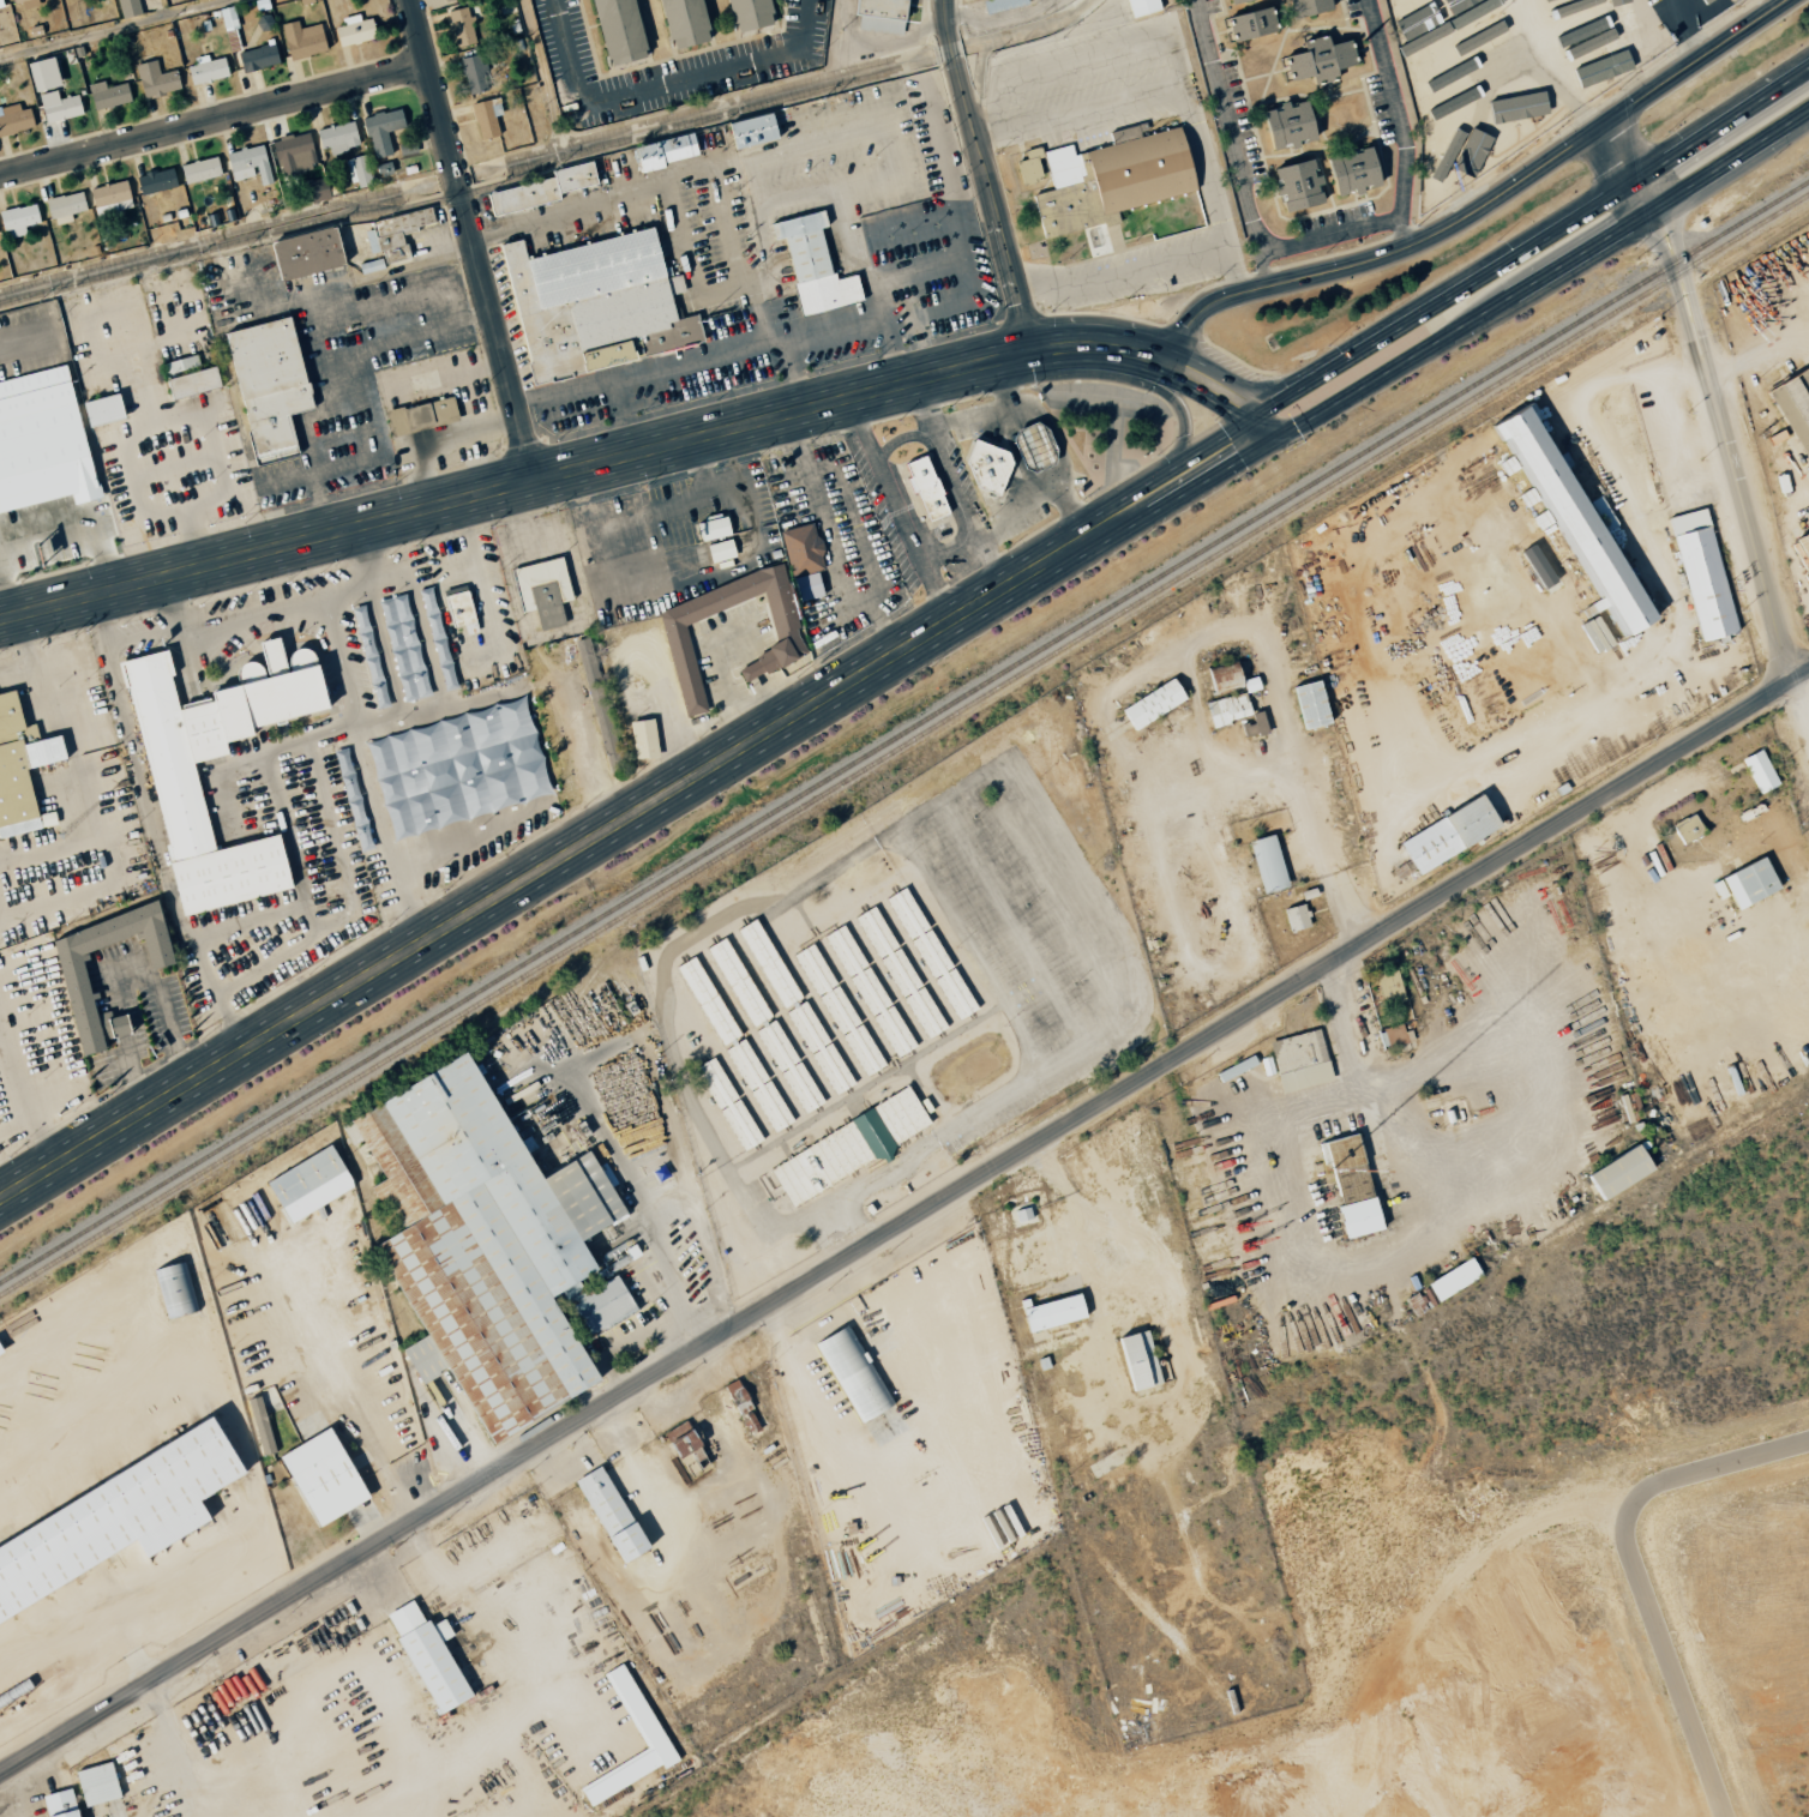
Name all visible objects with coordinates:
building: (446, 0)
building: (1545, 0)
building: (1234, 1)
building: (1616, 1)
building: (24, 4)
building: (1000, 4)
building: (0, 6)
building: (1308, 6)
building: (1141, 7)
building: (1568, 7)
building: (128, 8)
building: (1407, 13)
building: (747, 14)
building: (878, 14)
building: (1576, 20)
building: (683, 22)
building: (1249, 24)
building: (459, 26)
building: (354, 30)
building: (617, 30)
building: (1635, 31)
building: (1588, 36)
building: (301, 40)
building: (257, 58)
building: (1419, 59)
building: (1318, 60)
building: (205, 70)
building: (475, 73)
building: (42, 74)
building: (155, 79)
road: (662, 85)
building: (107, 95)
road: (1395, 96)
building: (58, 107)
building: (1516, 107)
road: (1225, 110)
building: (486, 118)
building: (14, 119)
road: (214, 122)
road: (1721, 122)
building: (1286, 126)
building: (380, 131)
building: (750, 131)
building: (337, 137)
building: (663, 152)
building: (1470, 152)
building: (293, 154)
building: (248, 164)
building: (1029, 167)
building: (199, 170)
building: (1351, 170)
building: (357, 172)
road: (984, 176)
building: (1111, 179)
building: (155, 181)
building: (1296, 185)
building: (540, 189)
road: (1619, 191)
road: (451, 195)
building: (108, 197)
road: (1483, 205)
building: (64, 206)
building: (18, 219)
road: (1404, 222)
building: (393, 234)
road: (471, 242)
road: (169, 252)
building: (305, 253)
road: (1260, 254)
building: (813, 265)
building: (369, 266)
road: (1537, 278)
building: (594, 305)
road: (1424, 309)
road: (1064, 345)
road: (1131, 351)
building: (188, 377)
road: (1202, 380)
building: (266, 386)
road: (1712, 396)
building: (1798, 396)
road: (1172, 402)
traffic signals: (1239, 402)
traffic signals: (1273, 402)
building: (101, 410)
building: (421, 416)
road: (1250, 417)
road: (901, 438)
building: (41, 441)
building: (1034, 446)
traffic signals: (1234, 446)
building: (990, 465)
road: (956, 486)
building: (926, 487)
road: (516, 488)
road: (899, 509)
building: (1570, 517)
road: (83, 518)
building: (713, 528)
building: (720, 550)
road: (952, 555)
building: (803, 560)
building: (1537, 566)
building: (1702, 574)
road: (481, 582)
building: (542, 590)
road: (4, 604)
road: (325, 608)
building: (459, 610)
road: (1231, 628)
road: (224, 630)
road: (139, 631)
building: (678, 638)
building: (1222, 678)
building: (1249, 684)
building: (600, 703)
building: (1152, 703)
building: (1310, 704)
road: (1799, 708)
building: (1227, 709)
building: (554, 724)
building: (1254, 724)
railway: (905, 730)
road: (330, 732)
building: (642, 739)
building: (524, 741)
railway: (903, 744)
building: (20, 769)
building: (1759, 771)
road: (139, 777)
building: (179, 800)
road: (275, 806)
road: (629, 814)
building: (1687, 829)
road: (386, 832)
building: (1447, 834)
road: (335, 842)
building: (1266, 864)
building: (1749, 883)
road: (270, 914)
building: (1296, 916)
building: (769, 963)
road: (1779, 969)
building: (72, 977)
building: (1392, 997)
railway: (565, 1013)
building: (716, 1016)
road: (1350, 1027)
building: (1393, 1036)
building: (896, 1040)
building: (1299, 1060)
road: (1529, 1063)
building: (1236, 1067)
building: (809, 1101)
building: (728, 1103)
building: (847, 1148)
building: (1618, 1172)
building: (307, 1184)
building: (1350, 1186)
building: (1021, 1214)
road: (903, 1220)
building: (480, 1244)
road: (1352, 1265)
building: (1453, 1280)
building: (175, 1289)
building: (601, 1304)
building: (1052, 1312)
road: (769, 1320)
building: (0, 1353)
building: (1137, 1360)
building: (853, 1373)
building: (260, 1425)
building: (681, 1442)
building: (321, 1478)
road: (919, 1494)
building: (609, 1515)
building: (114, 1520)
building: (426, 1656)
building: (636, 1711)
building: (96, 1783)
building: (59, 1804)

